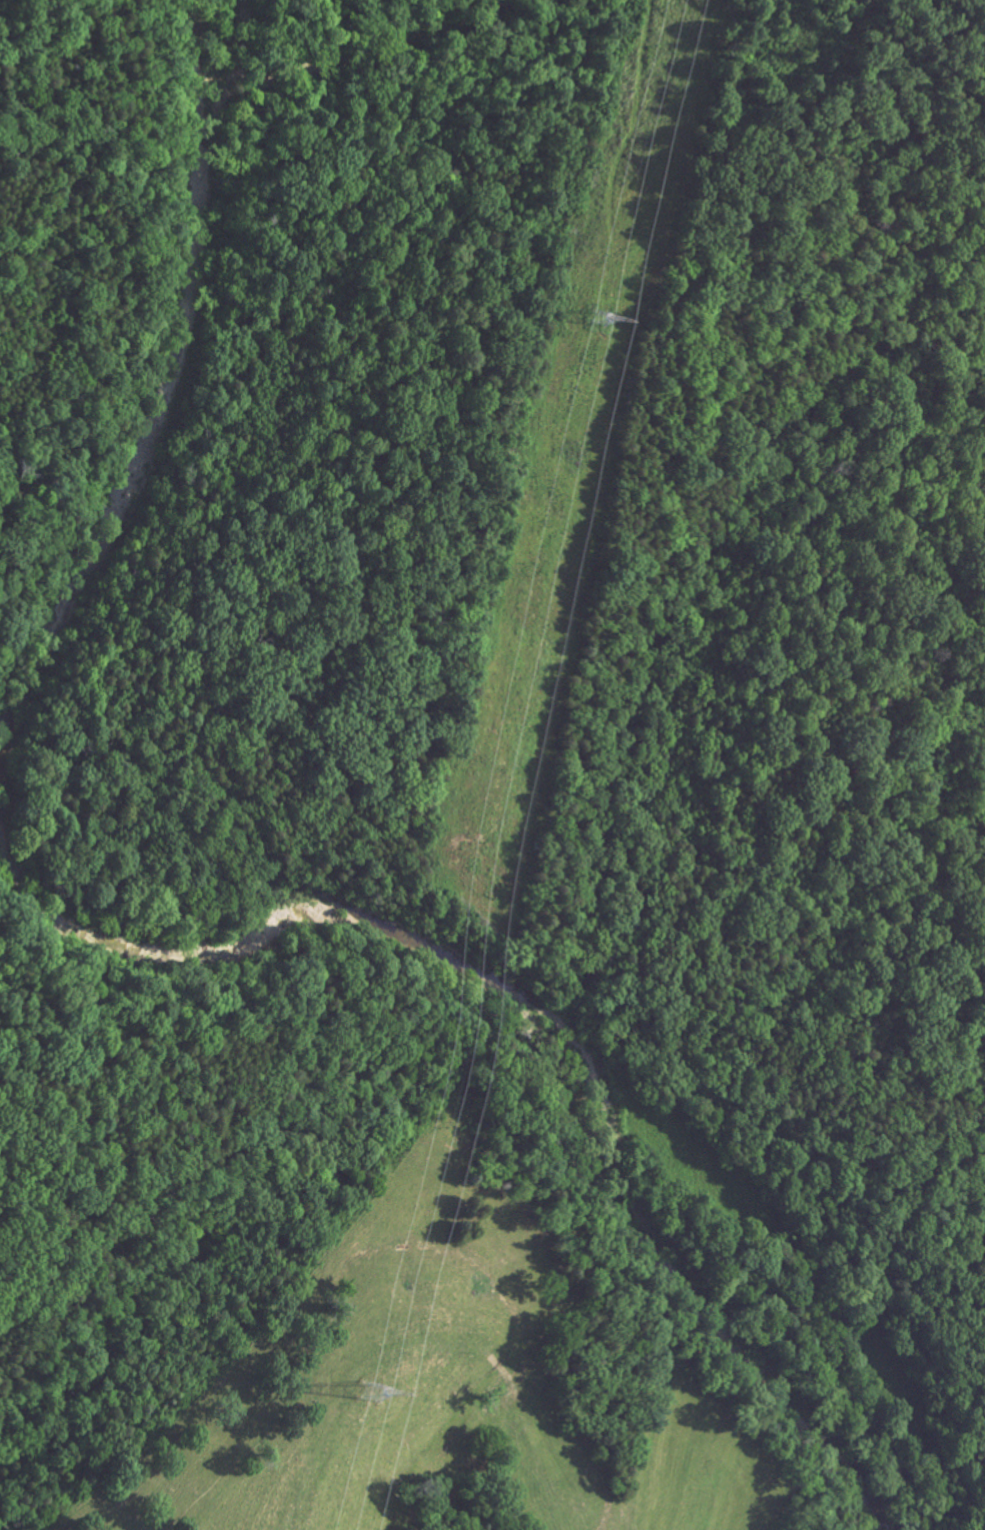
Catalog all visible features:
power tower: (597, 317)
power tower: (371, 1394)

